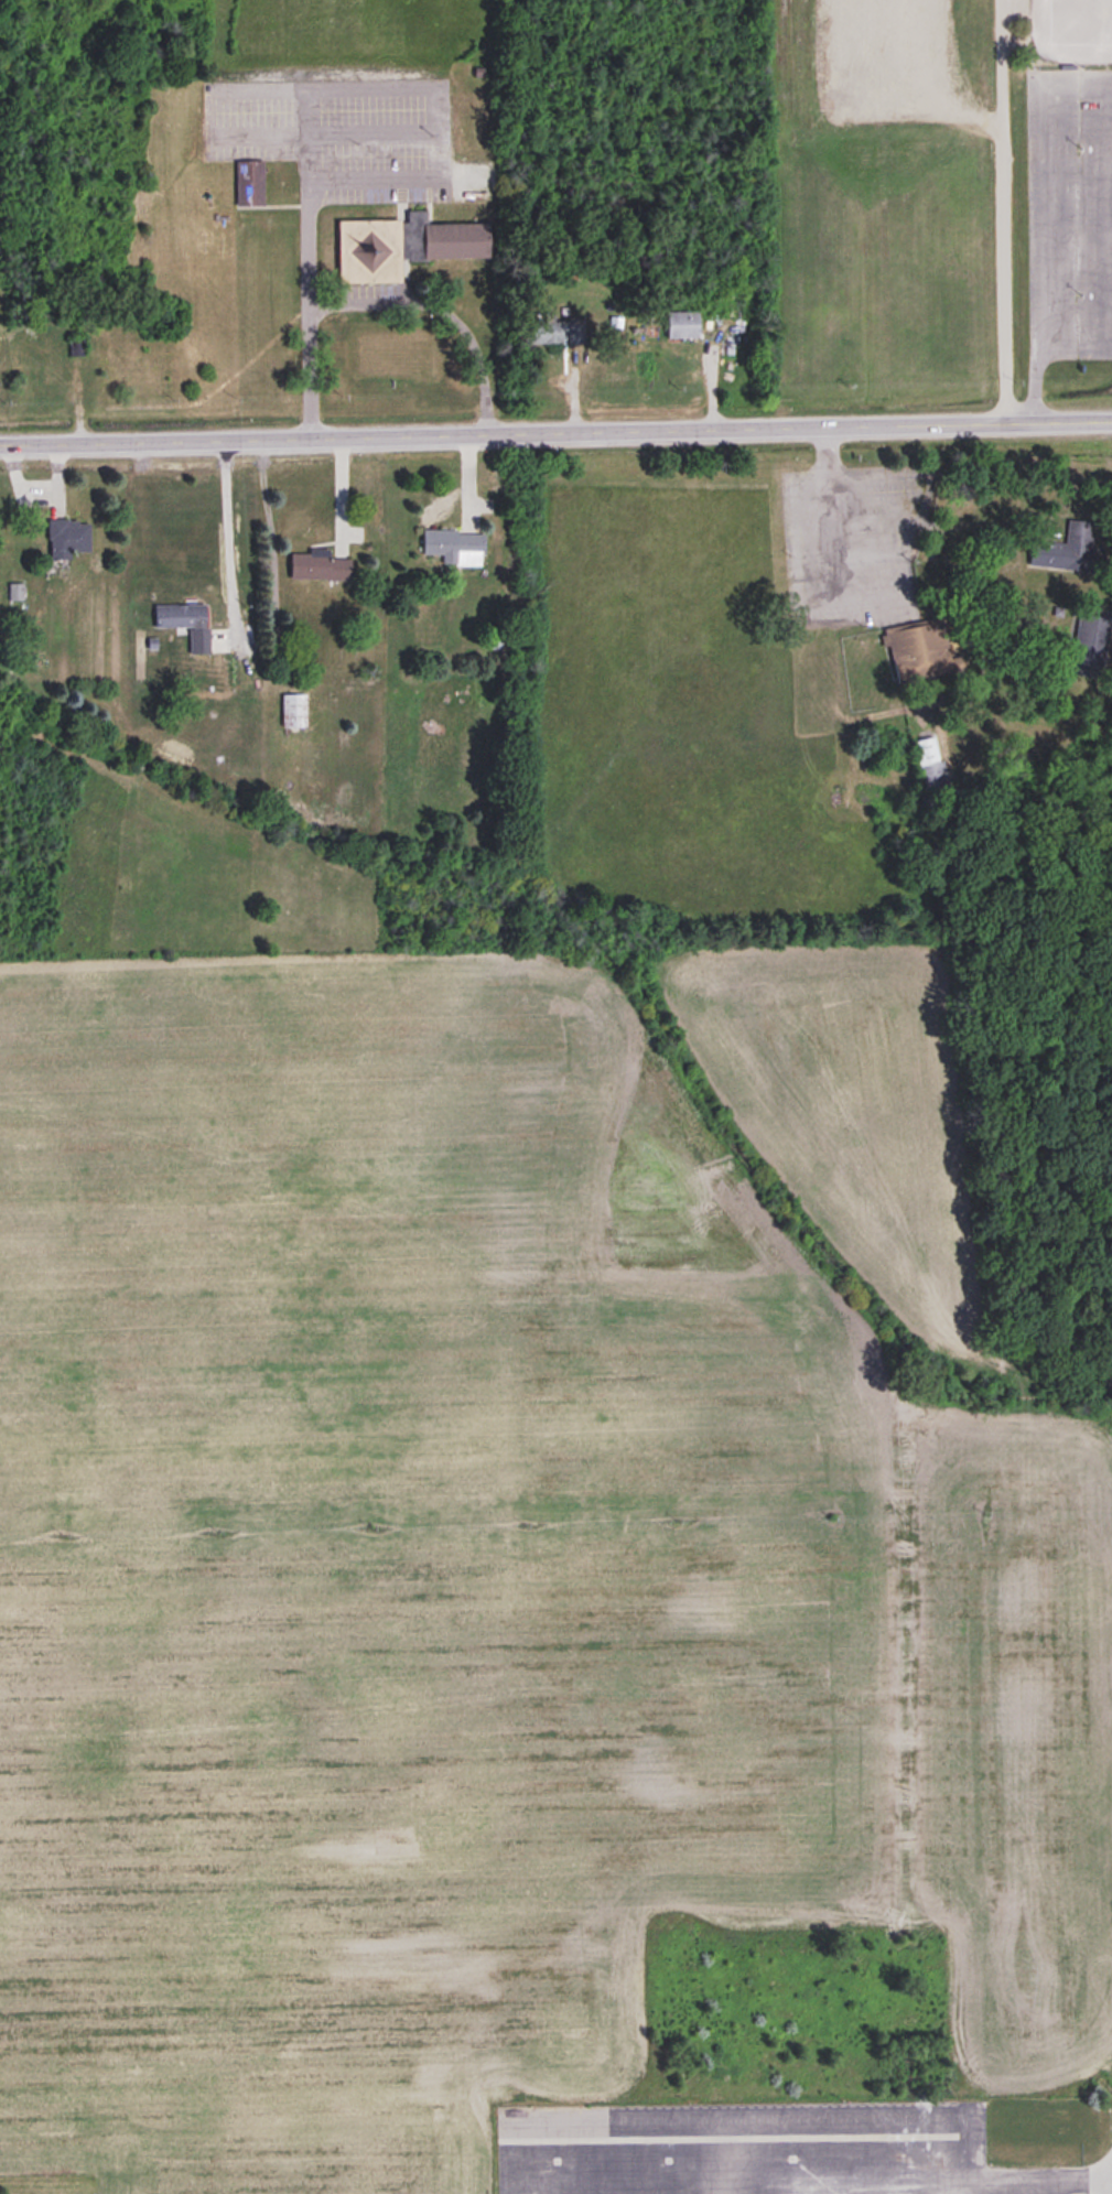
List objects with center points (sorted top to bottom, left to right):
road: (316, 88)
building: (249, 183)
road: (1047, 183)
road: (1002, 209)
building: (402, 247)
road: (439, 312)
building: (682, 325)
building: (548, 333)
building: (577, 333)
road: (1038, 347)
road: (555, 429)
road: (225, 529)
building: (67, 539)
building: (454, 548)
building: (1069, 551)
building: (319, 568)
building: (186, 624)
building: (918, 652)
building: (293, 712)
building: (931, 767)
road: (778, 2165)
road: (1073, 2181)

